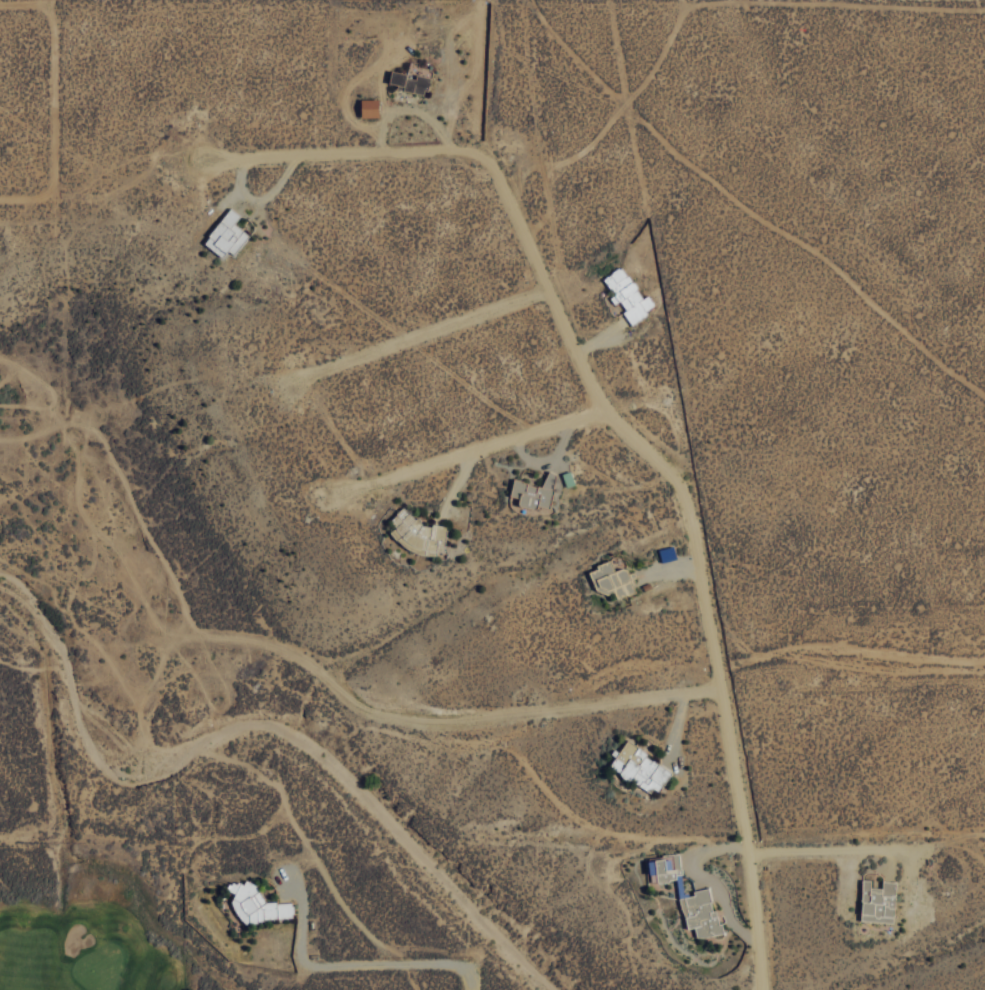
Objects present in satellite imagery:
building: (410, 81)
building: (369, 107)
building: (226, 234)
building: (628, 295)
road: (658, 460)
building: (534, 492)
building: (639, 767)
building: (665, 868)
building: (878, 902)
building: (257, 904)
building: (700, 912)
park: (89, 944)
road: (471, 983)

